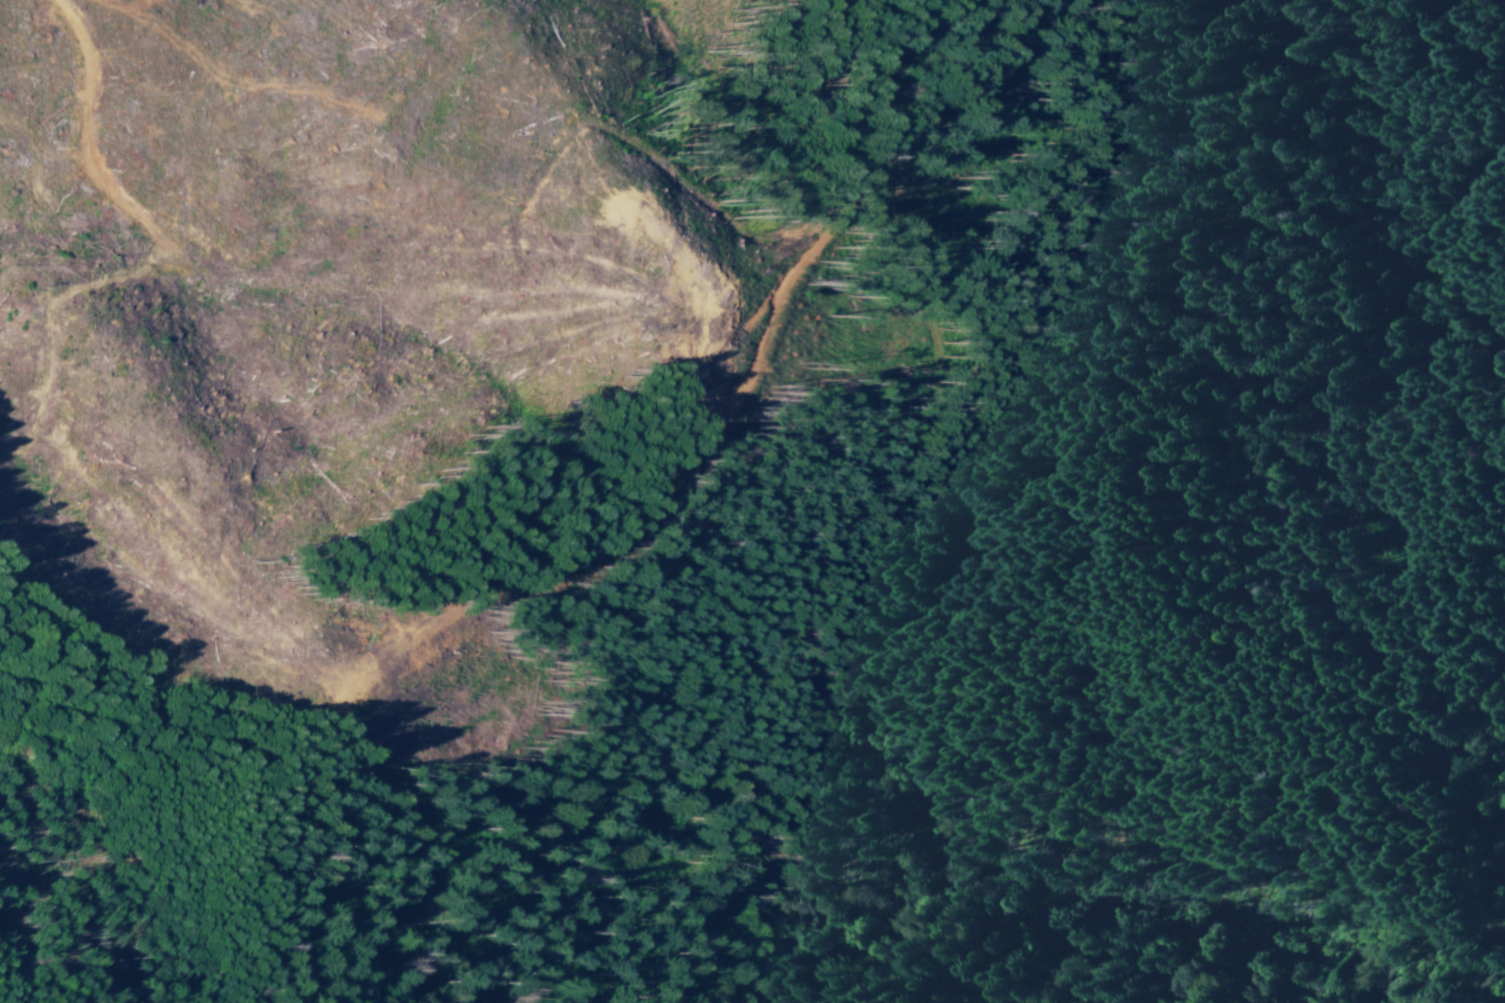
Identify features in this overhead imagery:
road: (1377, 500)

